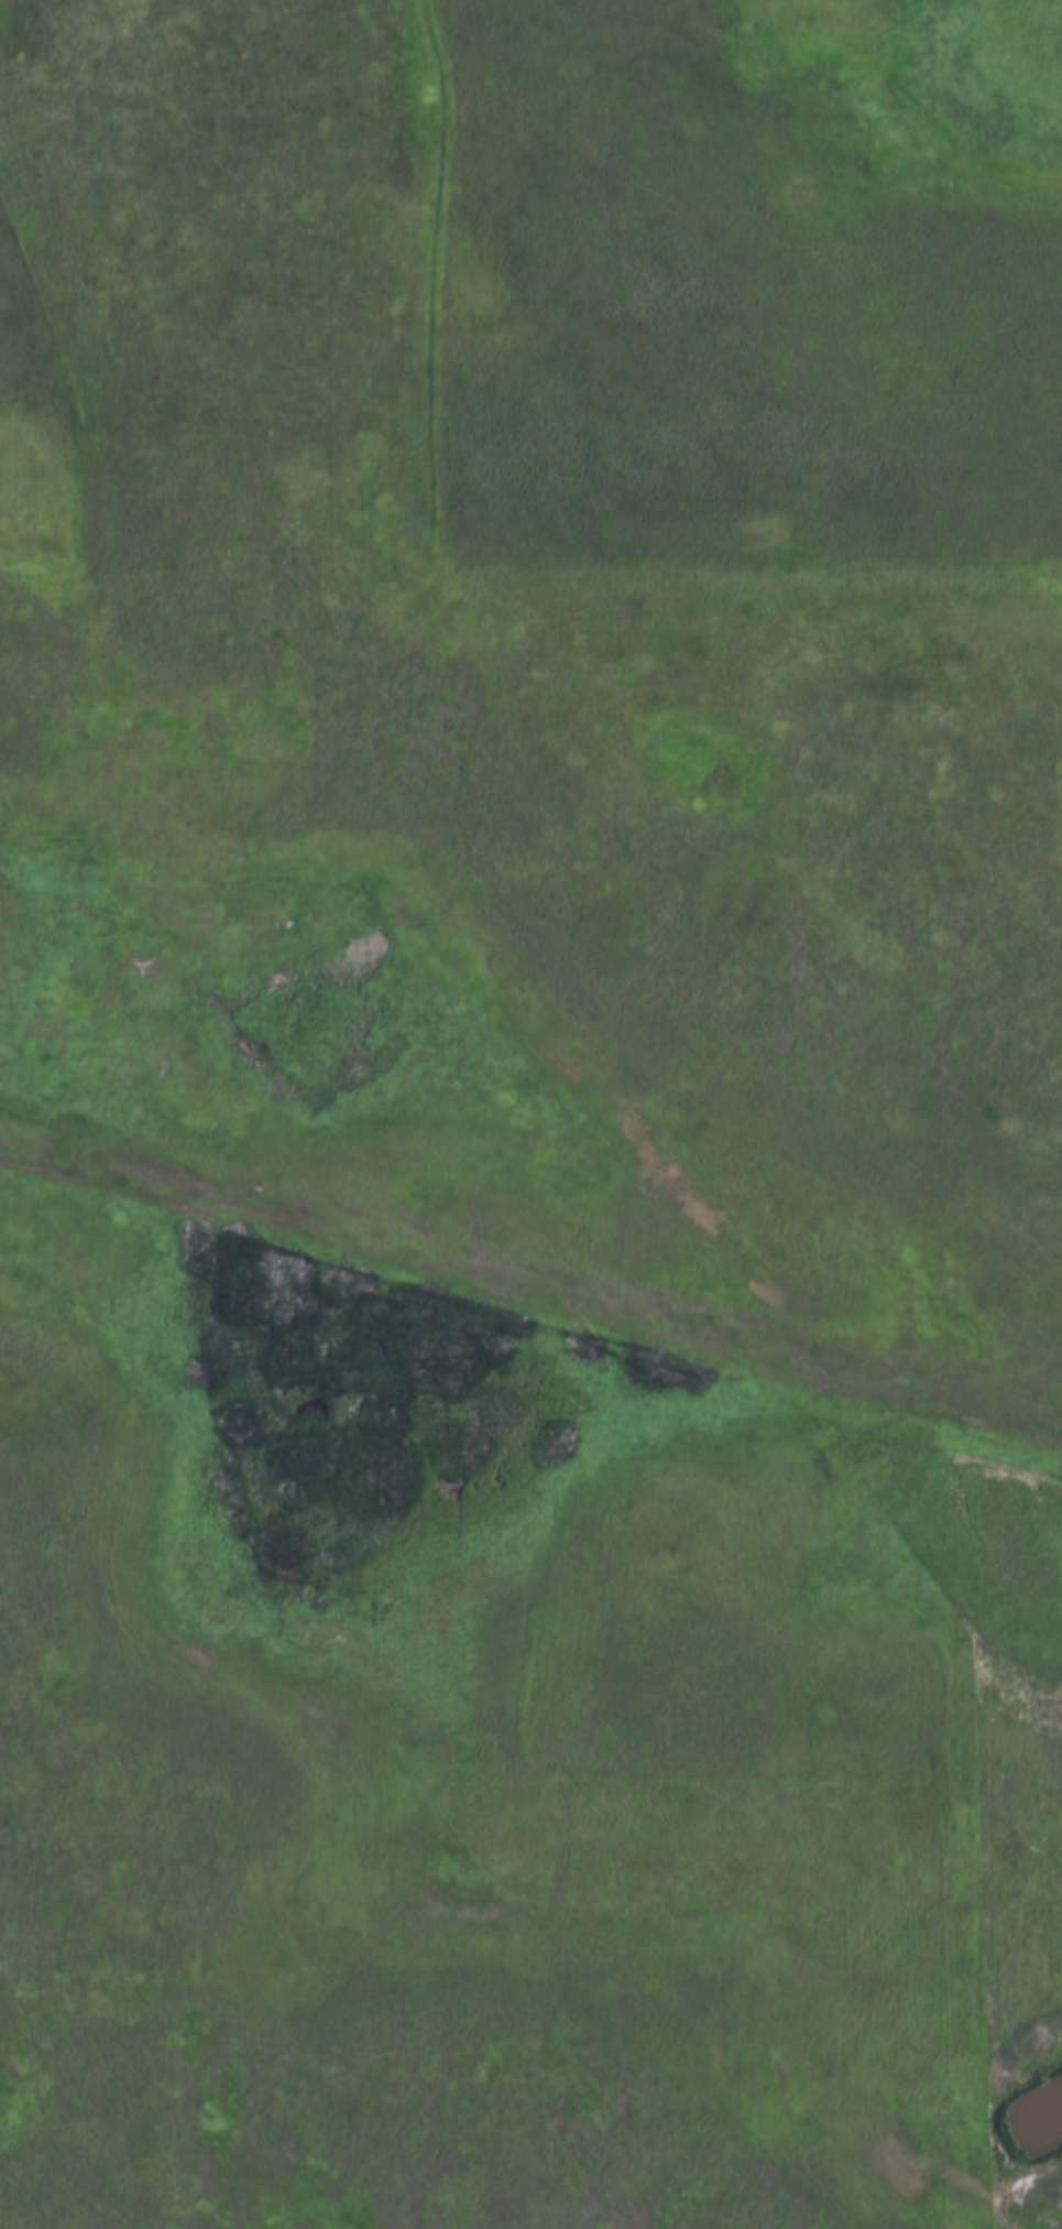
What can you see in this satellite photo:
road: (528, 1313)
road: (1022, 2051)

